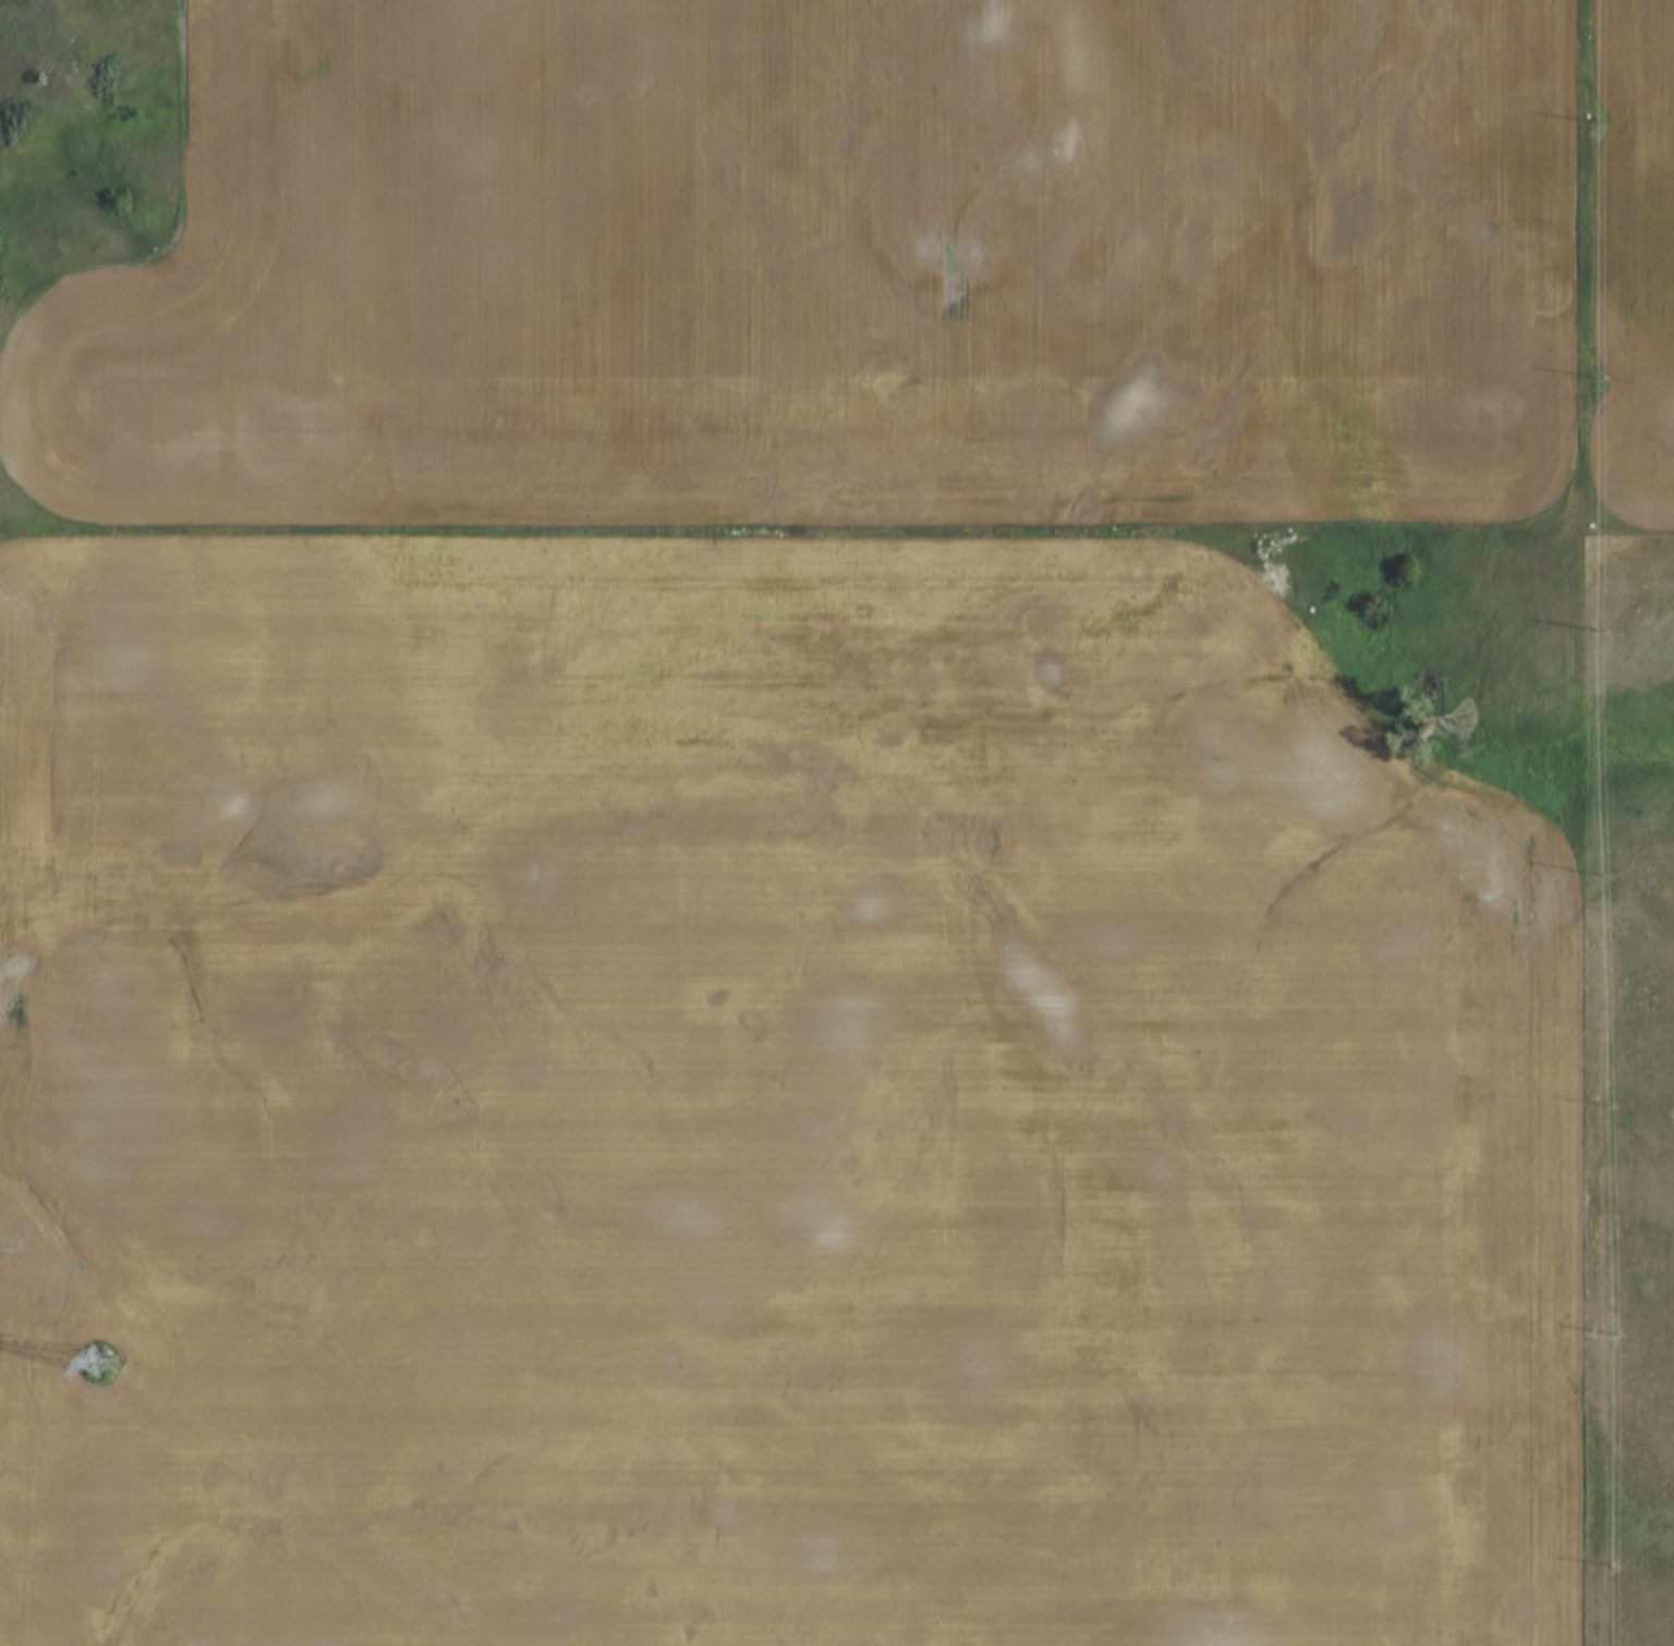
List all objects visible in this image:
power tower: (112, 1371)

